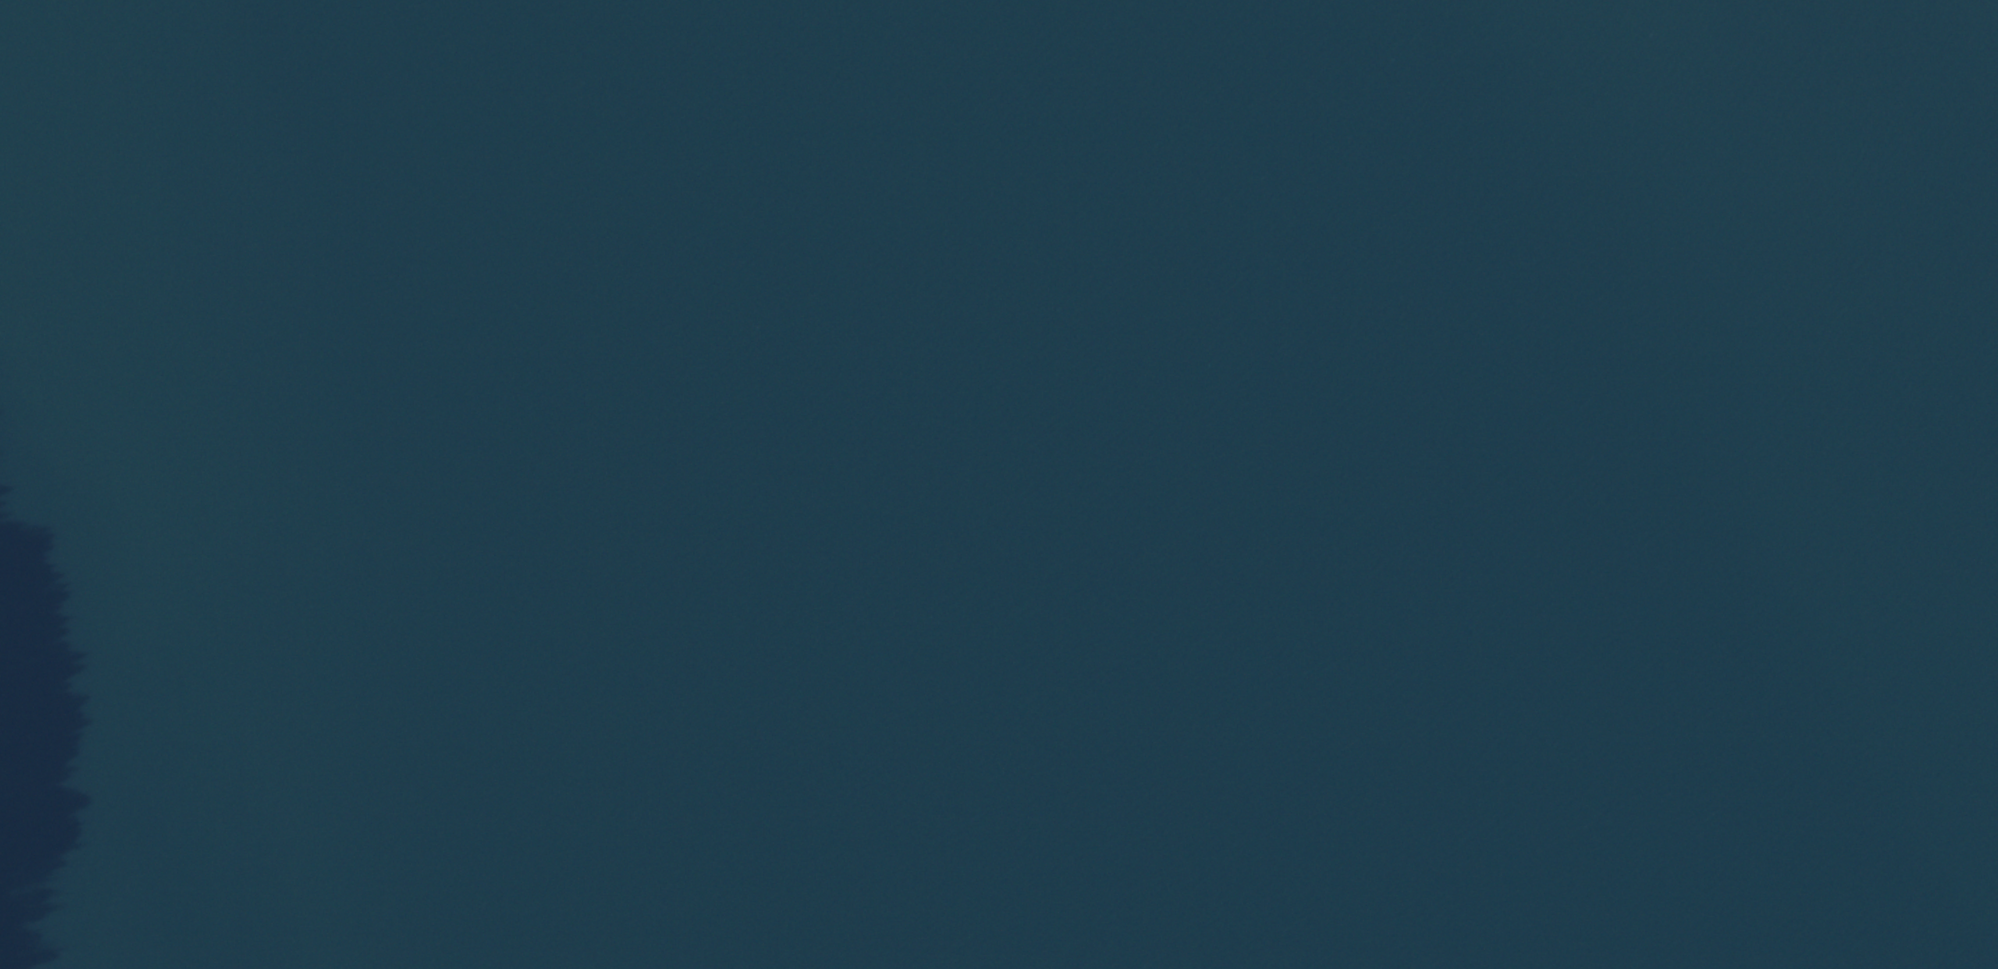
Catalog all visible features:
river: (1396, 484)

